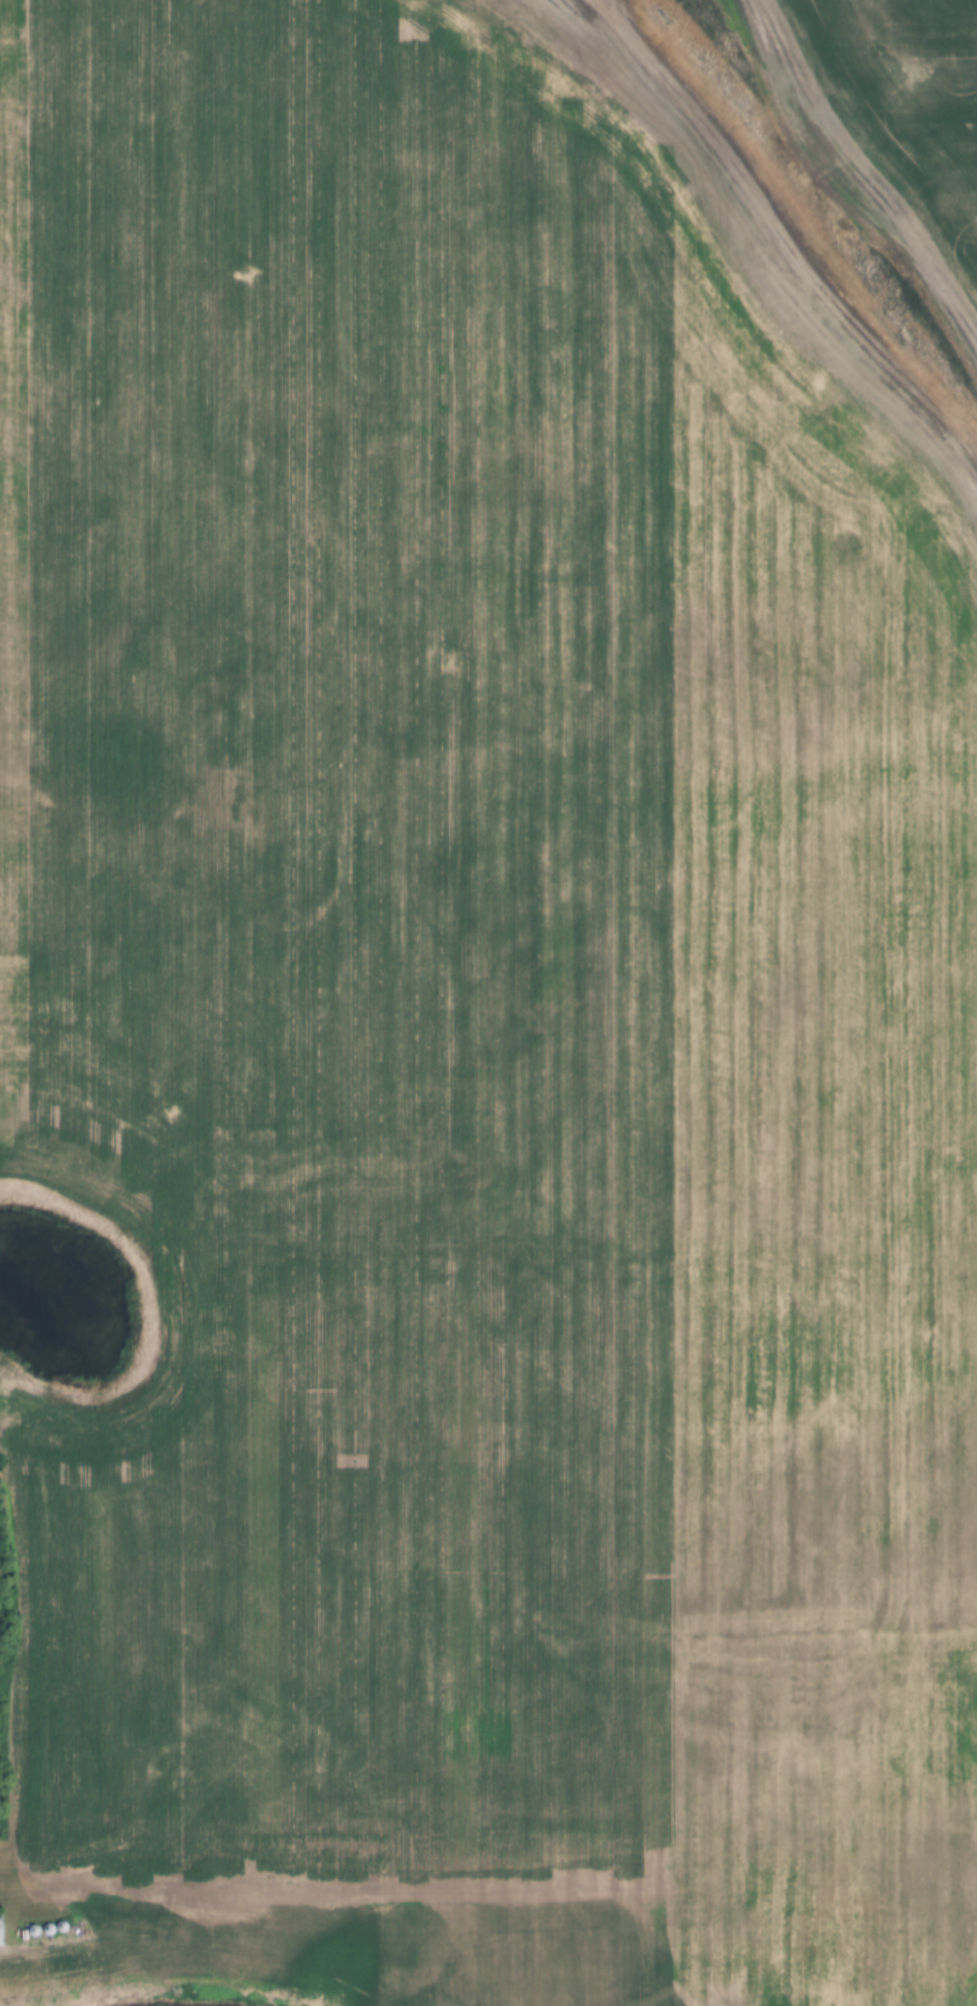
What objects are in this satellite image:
building: (70, 1726)
building: (1, 1932)

